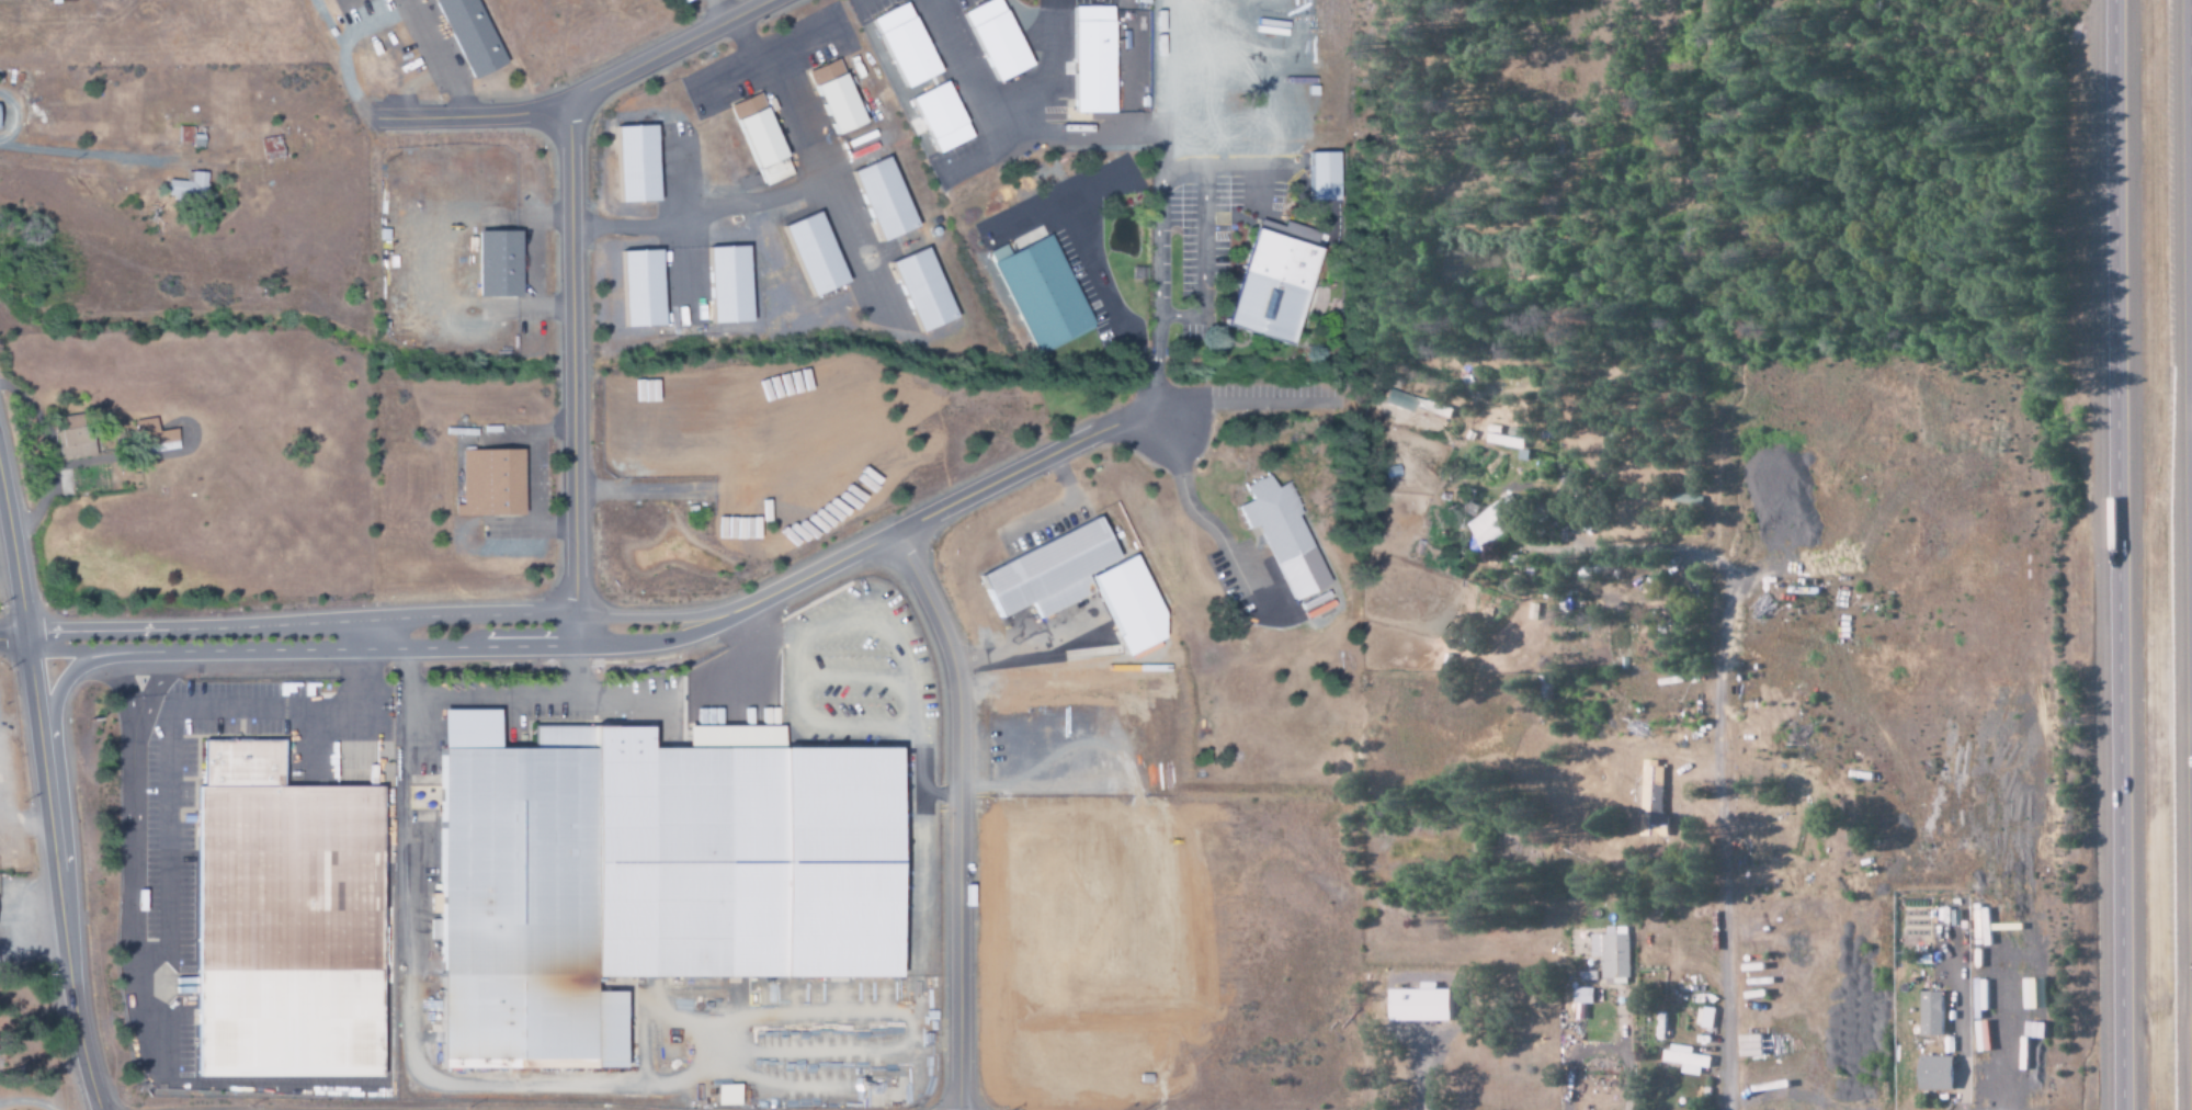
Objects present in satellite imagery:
building: (470, 37)
building: (1000, 39)
building: (909, 46)
building: (1095, 60)
road: (583, 92)
building: (839, 98)
building: (944, 118)
building: (184, 135)
building: (763, 139)
building: (272, 148)
building: (639, 165)
building: (1326, 175)
building: (189, 186)
building: (887, 197)
building: (818, 253)
building: (500, 262)
building: (1277, 281)
building: (731, 283)
building: (645, 287)
building: (925, 288)
building: (1043, 293)
road: (570, 367)
building: (1399, 399)
building: (75, 437)
building: (152, 437)
building: (492, 482)
building: (1690, 500)
building: (1495, 521)
building: (1287, 539)
road: (2123, 555)
building: (1053, 571)
road: (627, 633)
road: (13, 643)
road: (46, 794)
building: (1652, 797)
road: (955, 815)
building: (688, 861)
building: (515, 894)
building: (291, 918)
building: (1613, 954)
building: (2031, 993)
building: (1585, 996)
building: (1426, 1005)
building: (1929, 1013)
building: (1753, 1045)
building: (1688, 1060)
building: (1931, 1074)
building: (729, 1095)

